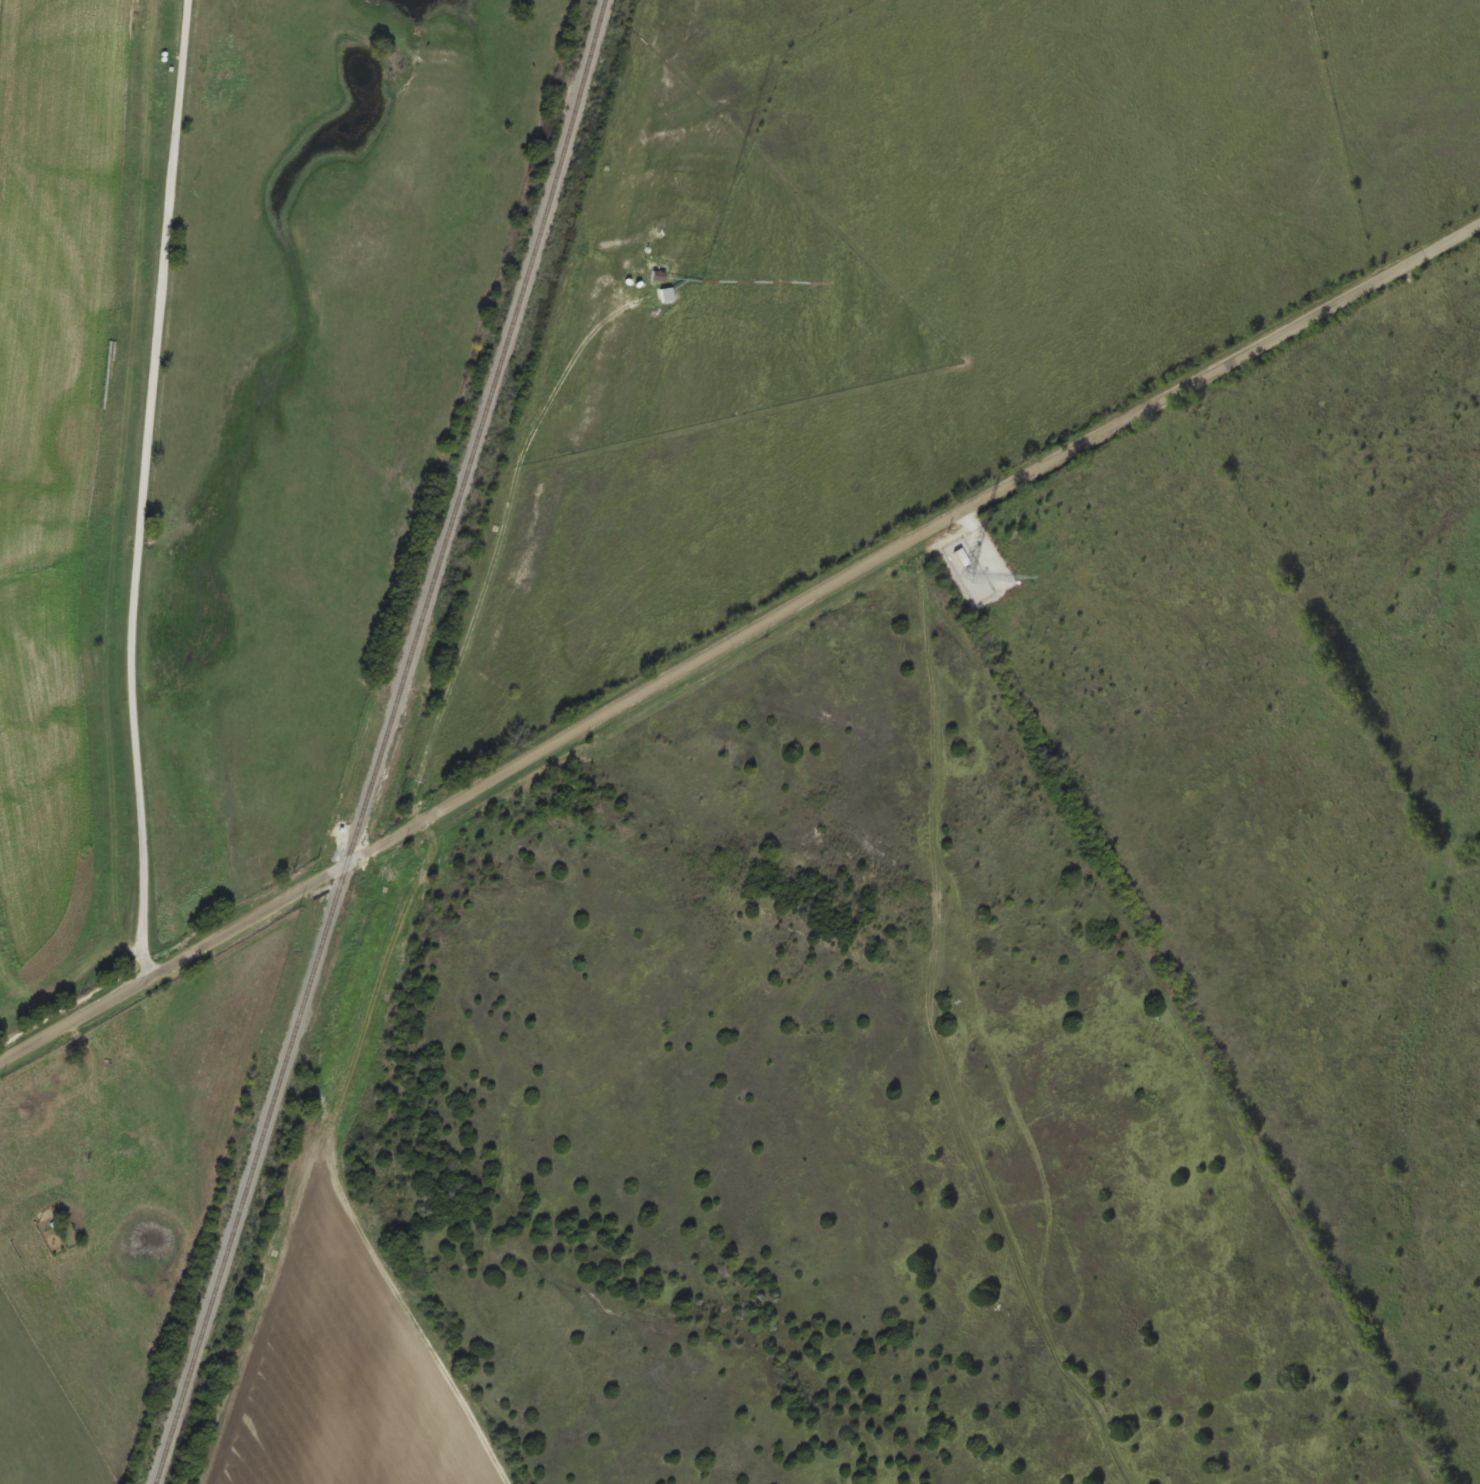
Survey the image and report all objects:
building: (664, 295)
road: (95, 503)
building: (959, 564)
road: (738, 642)
railway: (386, 743)
building: (42, 1200)

